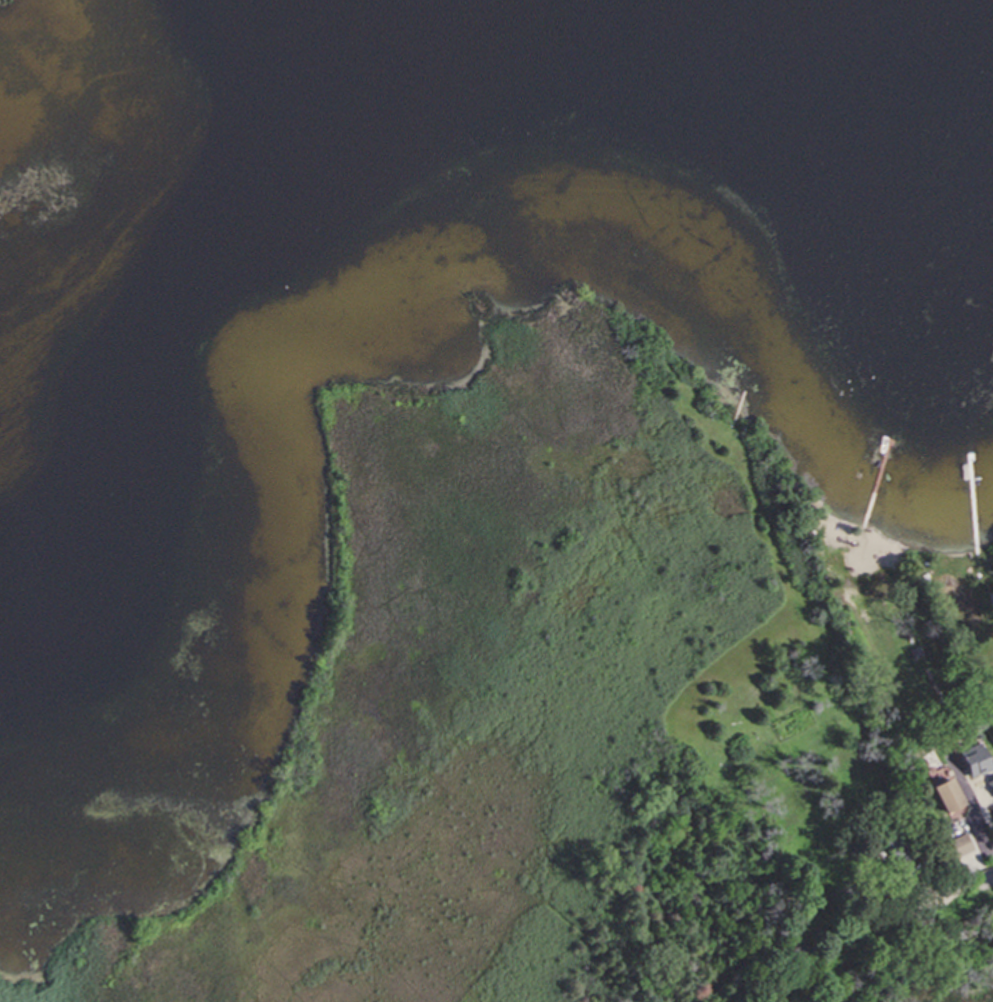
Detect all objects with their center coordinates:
building: (953, 800)
building: (964, 847)
road: (917, 923)

